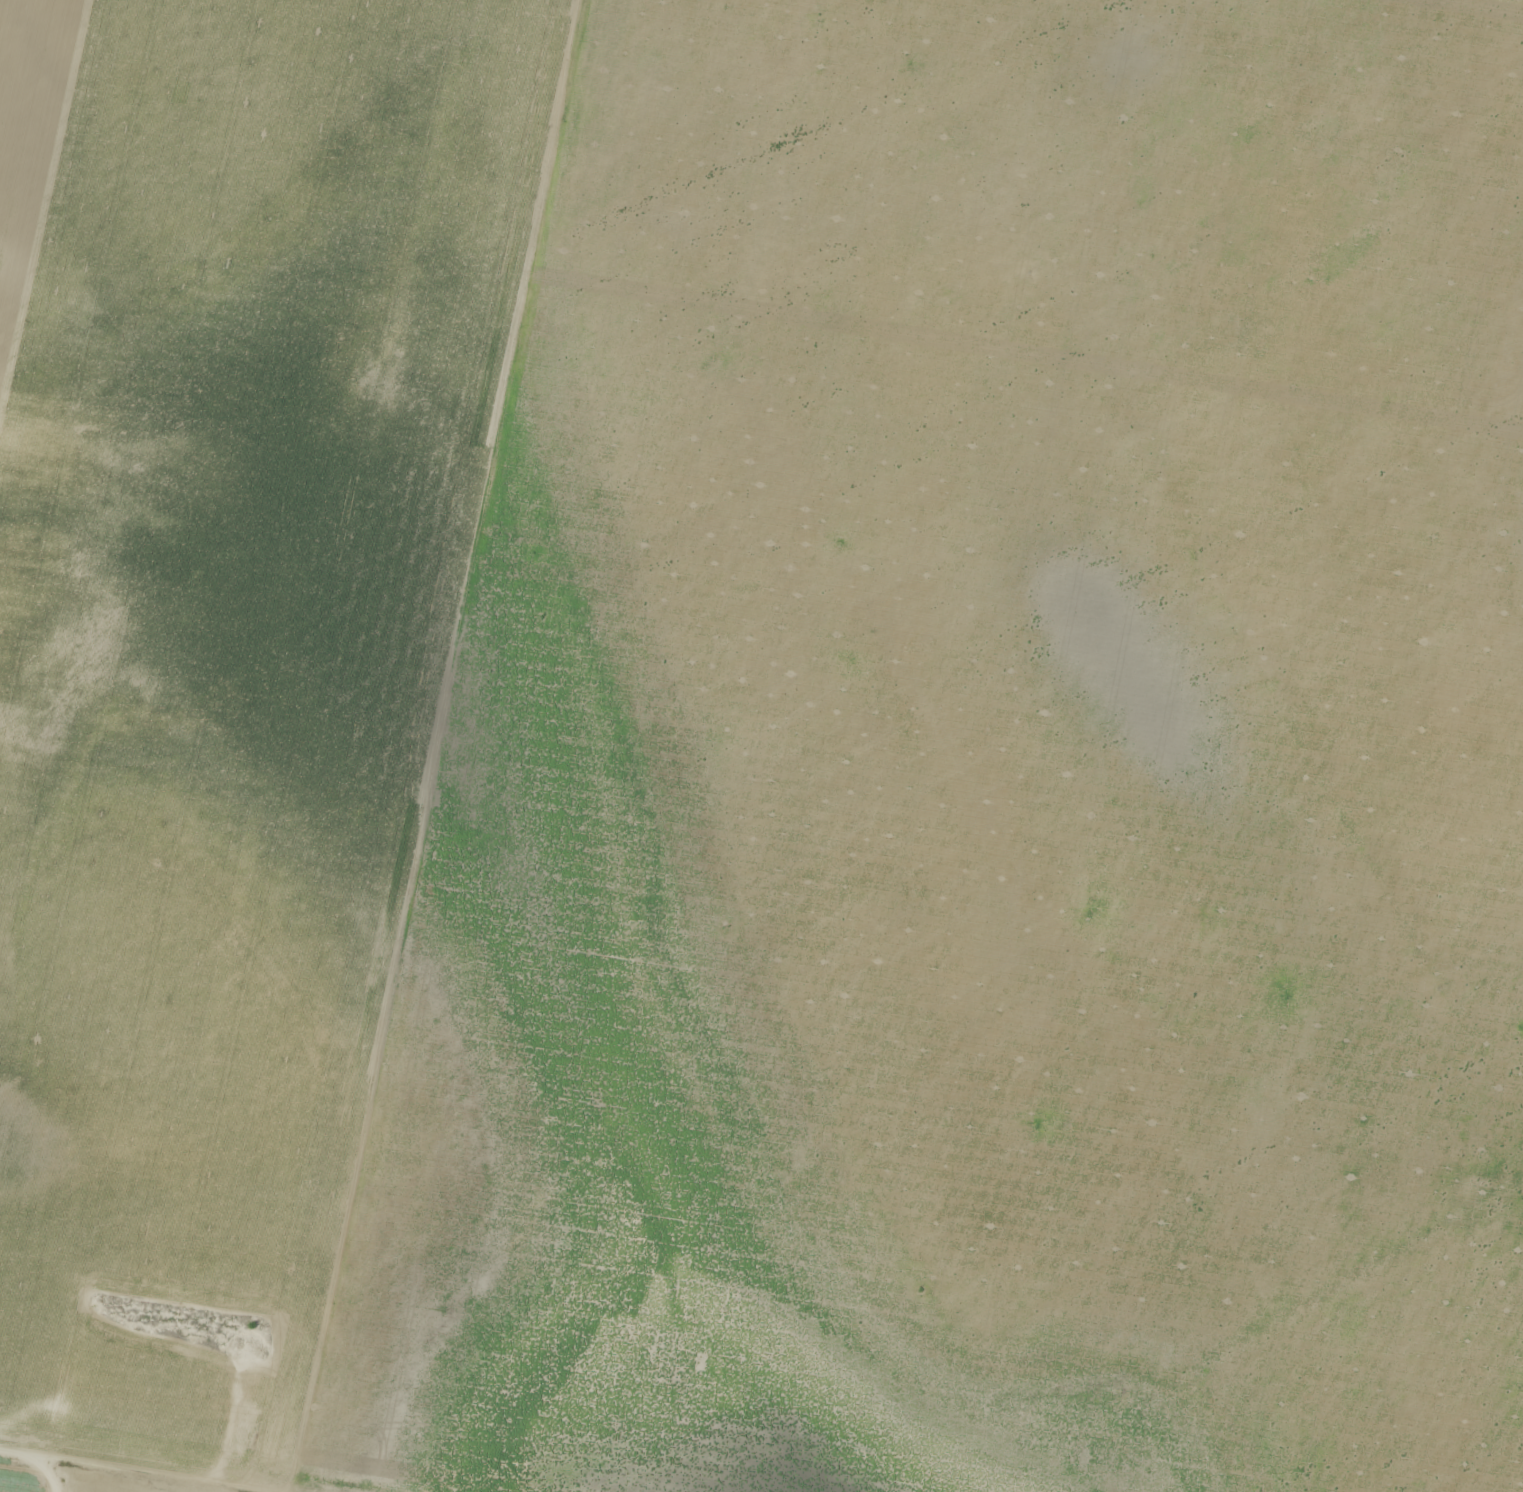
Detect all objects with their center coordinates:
road: (707, 1252)

